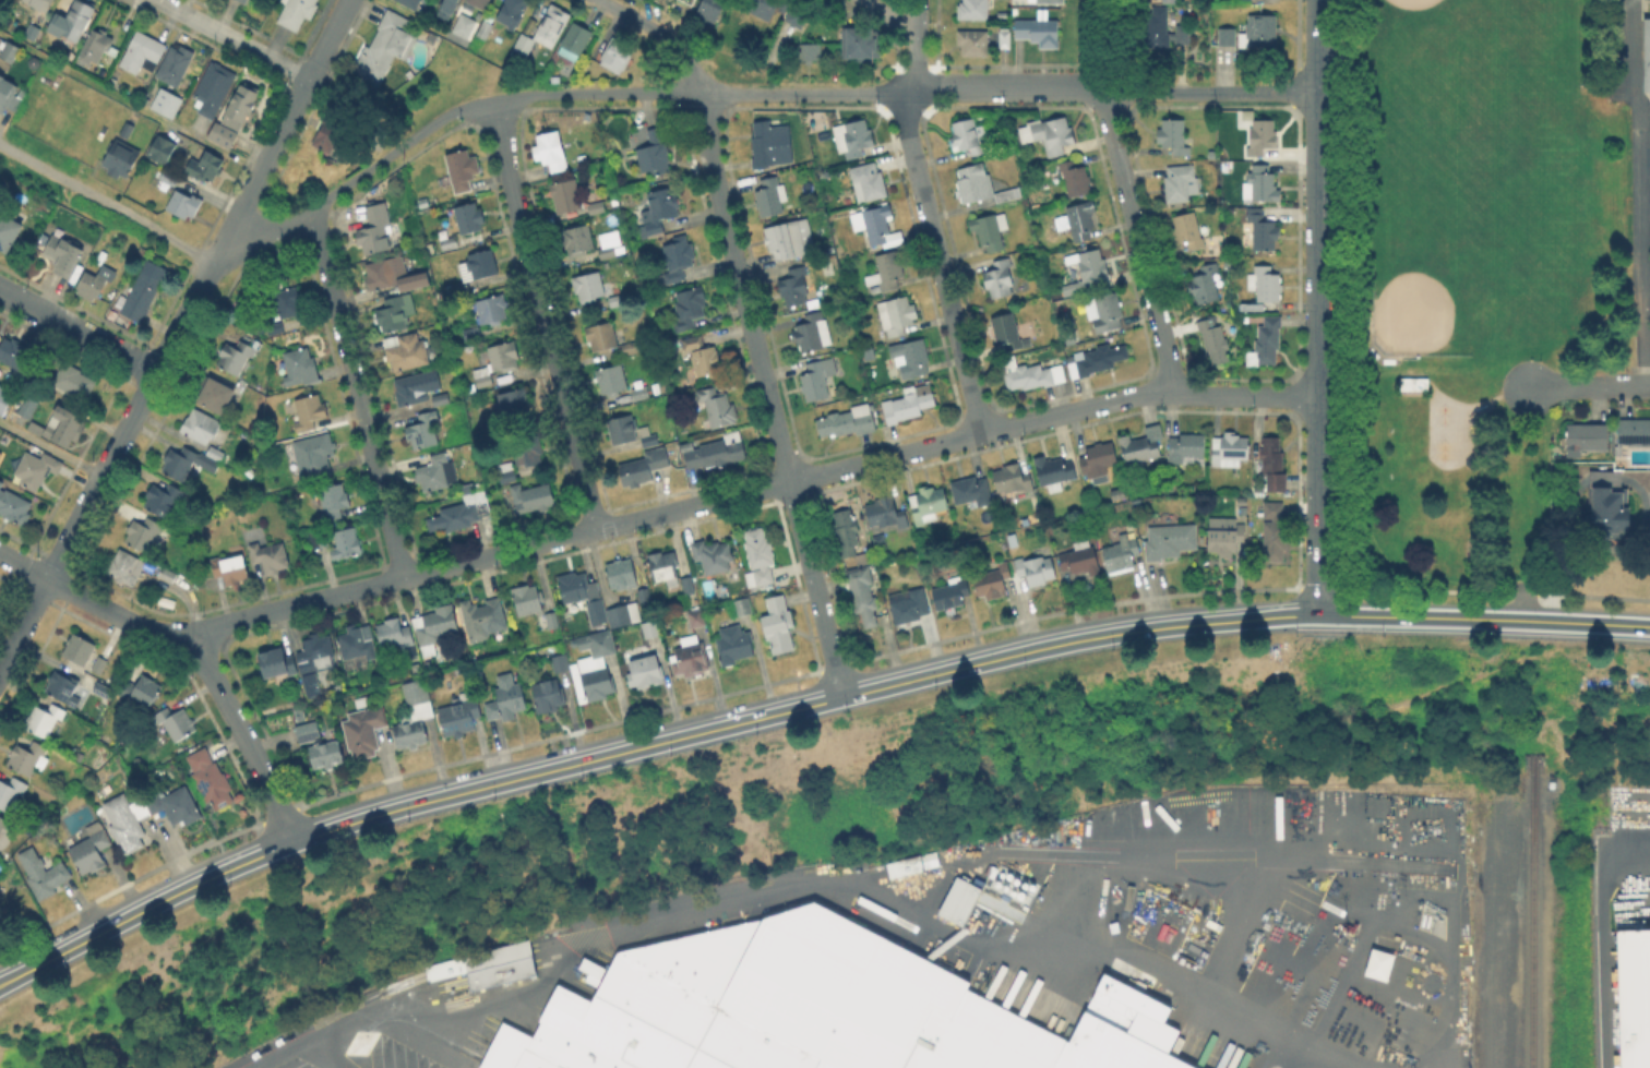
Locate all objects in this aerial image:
building: (243, 1)
building: (690, 2)
building: (1047, 2)
building: (411, 3)
building: (479, 3)
building: (40, 4)
building: (443, 8)
building: (763, 9)
building: (973, 11)
building: (297, 12)
building: (513, 12)
building: (709, 12)
building: (800, 14)
road: (918, 14)
road: (883, 16)
road: (420, 20)
building: (77, 21)
building: (466, 28)
building: (487, 28)
building: (1162, 32)
building: (545, 33)
road: (661, 33)
building: (1259, 33)
building: (1038, 34)
building: (1228, 38)
road: (231, 39)
building: (1006, 39)
building: (575, 44)
building: (975, 45)
road: (1318, 46)
building: (860, 48)
building: (384, 49)
parking lot: (1627, 49)
building: (93, 50)
building: (1647, 50)
building: (11, 53)
building: (811, 53)
building: (143, 55)
building: (617, 57)
building: (176, 65)
road: (1007, 87)
building: (214, 91)
building: (7, 93)
road: (1210, 93)
road: (539, 95)
road: (130, 103)
building: (164, 103)
road: (1648, 107)
building: (236, 116)
building: (128, 131)
road: (280, 131)
building: (1050, 135)
building: (1173, 136)
building: (1262, 136)
building: (969, 139)
building: (334, 140)
building: (856, 140)
building: (764, 145)
building: (162, 151)
building: (551, 153)
building: (654, 154)
building: (120, 160)
building: (205, 168)
building: (462, 171)
park: (1486, 178)
building: (169, 180)
building: (1074, 180)
building: (868, 183)
building: (1181, 184)
building: (1262, 185)
building: (980, 187)
road: (1647, 191)
building: (566, 197)
road: (1128, 197)
building: (770, 199)
road: (106, 202)
building: (182, 207)
building: (659, 213)
building: (469, 219)
building: (1078, 221)
building: (874, 224)
building: (375, 230)
road: (931, 231)
building: (1187, 231)
building: (987, 233)
building: (8, 235)
building: (1262, 235)
building: (577, 240)
building: (789, 240)
building: (450, 244)
building: (611, 245)
building: (63, 256)
building: (678, 261)
building: (480, 266)
park: (1463, 268)
building: (1089, 272)
building: (887, 273)
building: (394, 276)
building: (1000, 279)
building: (96, 284)
building: (1205, 285)
building: (587, 288)
building: (794, 288)
building: (1266, 288)
building: (144, 291)
building: (617, 302)
building: (285, 304)
building: (689, 310)
building: (492, 311)
building: (1105, 313)
building: (395, 314)
road: (545, 316)
building: (897, 316)
road: (183, 317)
road: (77, 332)
building: (274, 332)
building: (813, 334)
building: (1008, 334)
building: (602, 338)
building: (1215, 343)
building: (692, 345)
building: (1267, 346)
road: (1649, 350)
building: (631, 351)
building: (406, 353)
road: (1318, 353)
building: (16, 356)
building: (238, 357)
building: (911, 359)
building: (1096, 361)
building: (497, 364)
building: (708, 364)
building: (301, 368)
building: (1035, 374)
building: (817, 380)
building: (611, 381)
building: (1415, 381)
building: (75, 383)
road: (1589, 385)
building: (408, 393)
road: (768, 394)
road: (356, 395)
building: (641, 395)
building: (3, 396)
building: (216, 399)
building: (441, 400)
building: (512, 403)
building: (29, 405)
building: (909, 405)
building: (717, 407)
building: (309, 413)
building: (848, 423)
building: (202, 429)
building: (68, 430)
building: (423, 432)
building: (623, 432)
building: (1634, 432)
building: (1586, 437)
building: (648, 439)
building: (1141, 448)
road: (50, 449)
building: (1188, 451)
building: (1230, 451)
building: (531, 454)
building: (716, 454)
building: (314, 459)
building: (191, 463)
building: (1099, 463)
building: (1275, 465)
building: (645, 468)
building: (37, 471)
building: (1053, 473)
building: (435, 475)
building: (507, 475)
building: (1607, 479)
building: (1012, 480)
building: (0, 481)
building: (972, 492)
building: (534, 500)
building: (163, 501)
building: (334, 503)
building: (929, 505)
building: (15, 507)
building: (1613, 512)
building: (461, 516)
road: (650, 517)
building: (884, 520)
road: (77, 521)
building: (1276, 533)
building: (144, 535)
building: (845, 535)
building: (1225, 538)
building: (319, 542)
building: (1171, 542)
building: (347, 544)
building: (1121, 555)
building: (714, 556)
building: (758, 557)
building: (271, 559)
building: (1081, 560)
building: (663, 566)
building: (125, 569)
building: (231, 571)
building: (1037, 571)
building: (622, 575)
building: (168, 577)
building: (993, 583)
building: (687, 587)
building: (861, 595)
building: (950, 595)
building: (583, 598)
building: (645, 598)
building: (528, 601)
building: (909, 607)
building: (743, 608)
building: (623, 615)
building: (482, 620)
building: (696, 620)
building: (548, 622)
building: (778, 625)
building: (434, 629)
building: (651, 632)
building: (396, 638)
building: (358, 645)
building: (734, 646)
building: (80, 650)
building: (316, 656)
building: (691, 657)
building: (95, 663)
building: (278, 665)
building: (100, 667)
building: (590, 668)
building: (646, 672)
building: (311, 685)
building: (68, 686)
building: (99, 688)
building: (142, 693)
building: (417, 694)
building: (549, 699)
building: (506, 705)
road: (804, 705)
building: (459, 719)
building: (46, 720)
building: (176, 724)
building: (308, 732)
building: (364, 732)
building: (409, 734)
road: (243, 735)
building: (325, 755)
building: (28, 759)
building: (210, 780)
building: (11, 796)
building: (147, 817)
park: (836, 824)
building: (2, 826)
building: (92, 851)
building: (909, 863)
building: (43, 874)
road: (836, 880)
building: (957, 900)
railway: (1531, 911)
building: (485, 964)
building: (1380, 967)
building: (589, 970)
building: (1635, 998)
building: (814, 1009)
road: (292, 1048)

